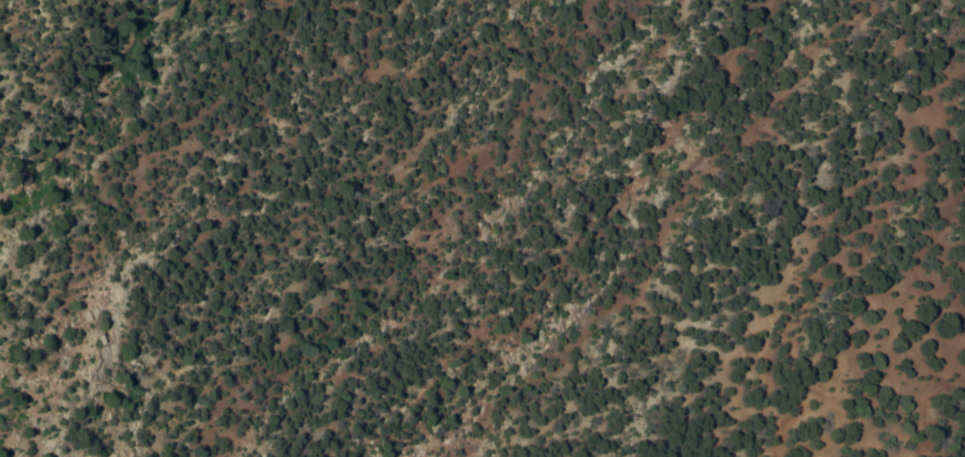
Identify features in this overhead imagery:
road: (796, 220)

